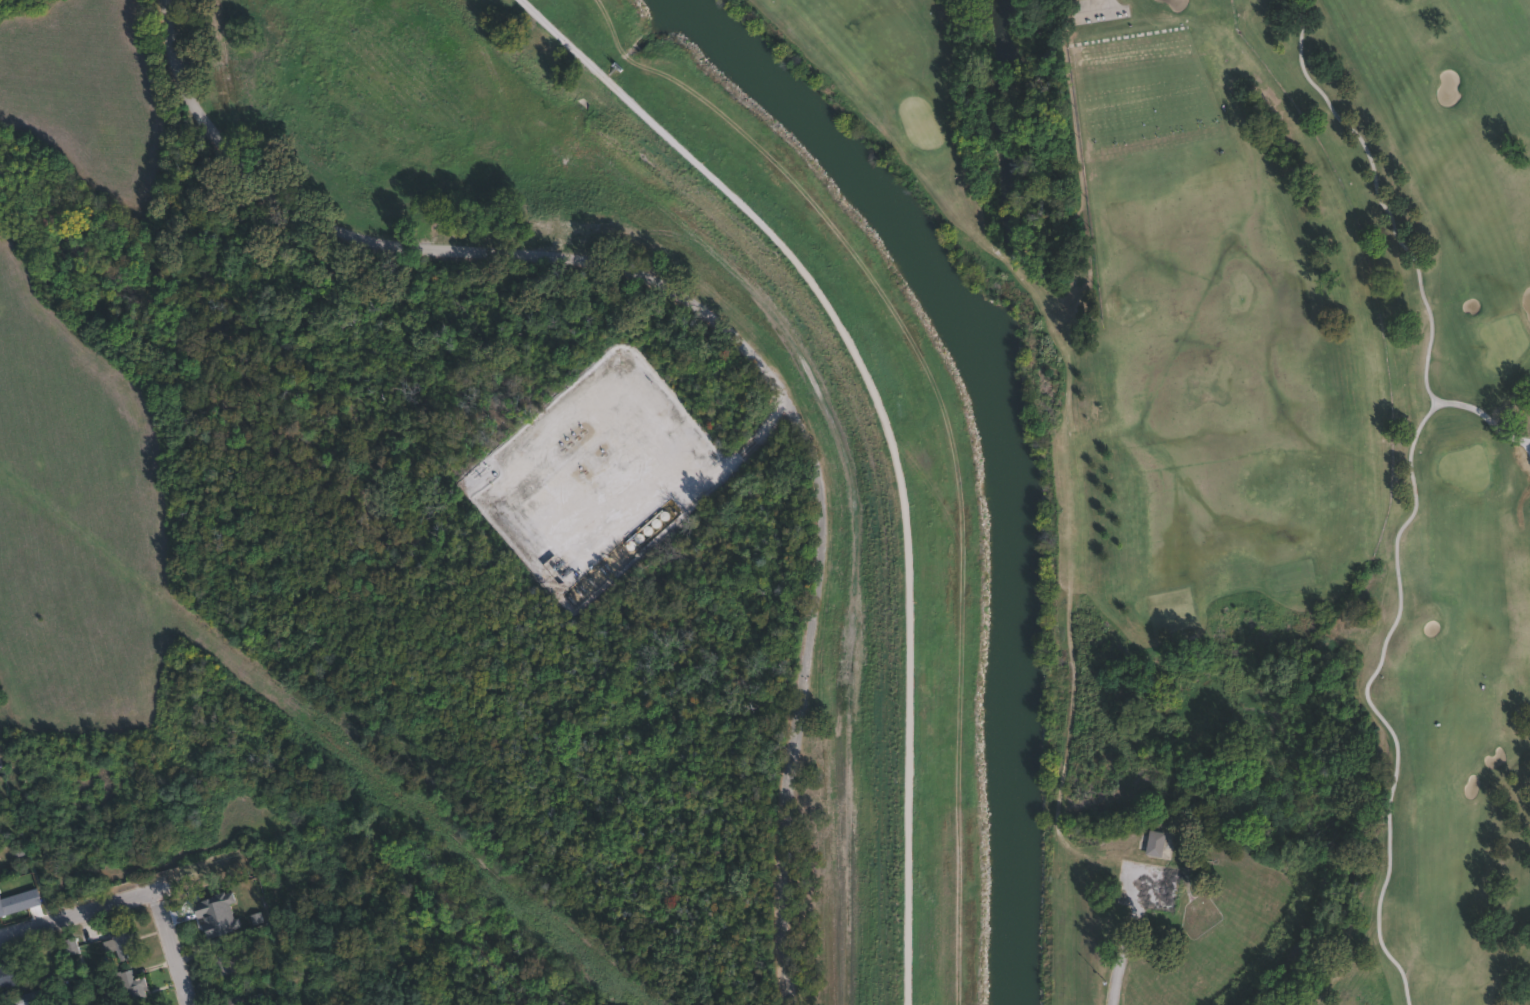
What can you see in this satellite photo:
road: (725, 329)
road: (892, 435)
river: (1007, 444)
road: (739, 455)
park: (1251, 466)
building: (1154, 843)
building: (252, 893)
road: (79, 909)
building: (210, 913)
park: (400, 924)
road: (1126, 942)
building: (124, 943)
road: (176, 944)
building: (71, 946)
building: (227, 961)
building: (7, 976)
building: (132, 989)
building: (28, 998)
building: (240, 1000)
building: (277, 1003)
building: (289, 1004)

